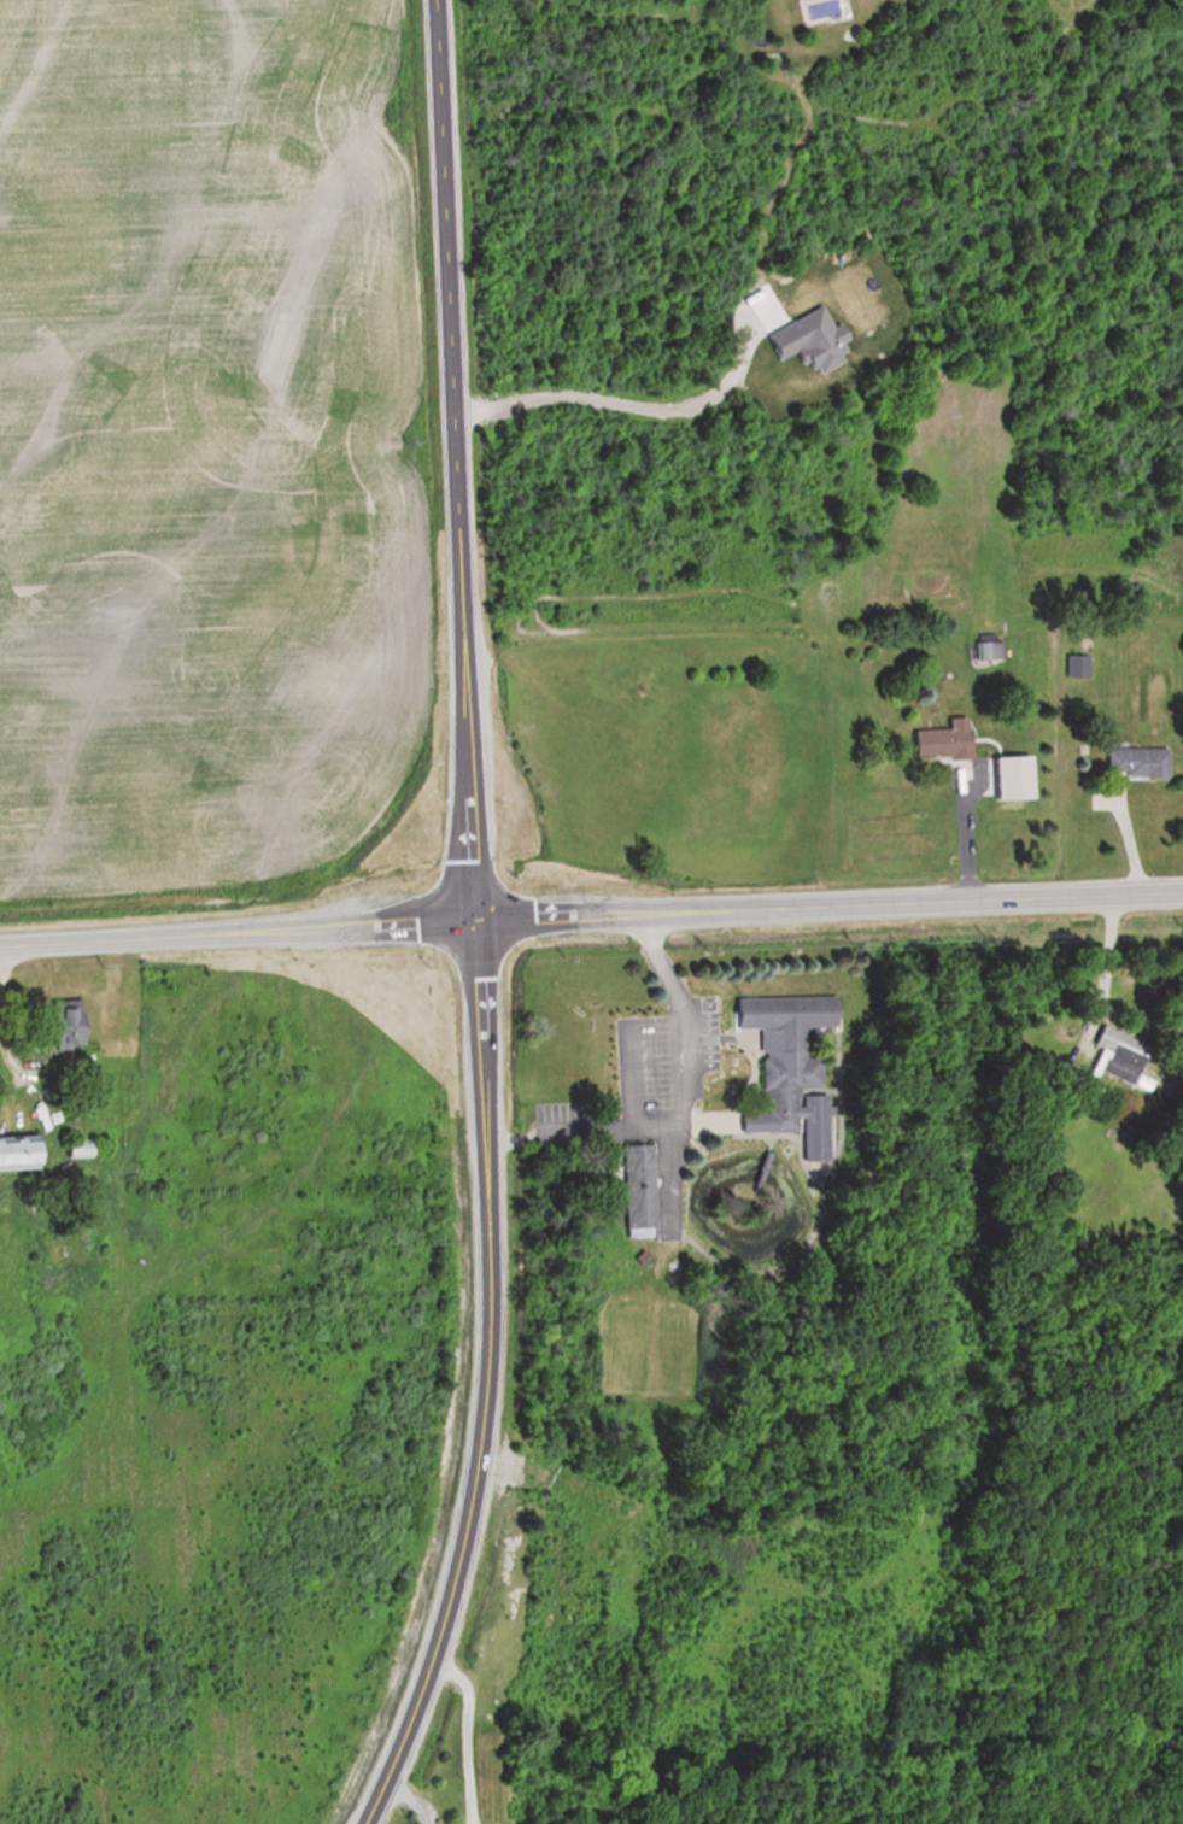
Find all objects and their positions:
road: (634, 395)
building: (988, 652)
building: (1076, 667)
building: (941, 740)
building: (1136, 762)
road: (956, 828)
road: (591, 914)
road: (473, 922)
building: (62, 1025)
building: (1114, 1054)
building: (787, 1078)
parking lot: (661, 1090)
road: (681, 1105)
building: (17, 1153)
building: (637, 1193)
road: (472, 1729)
road: (408, 1794)

